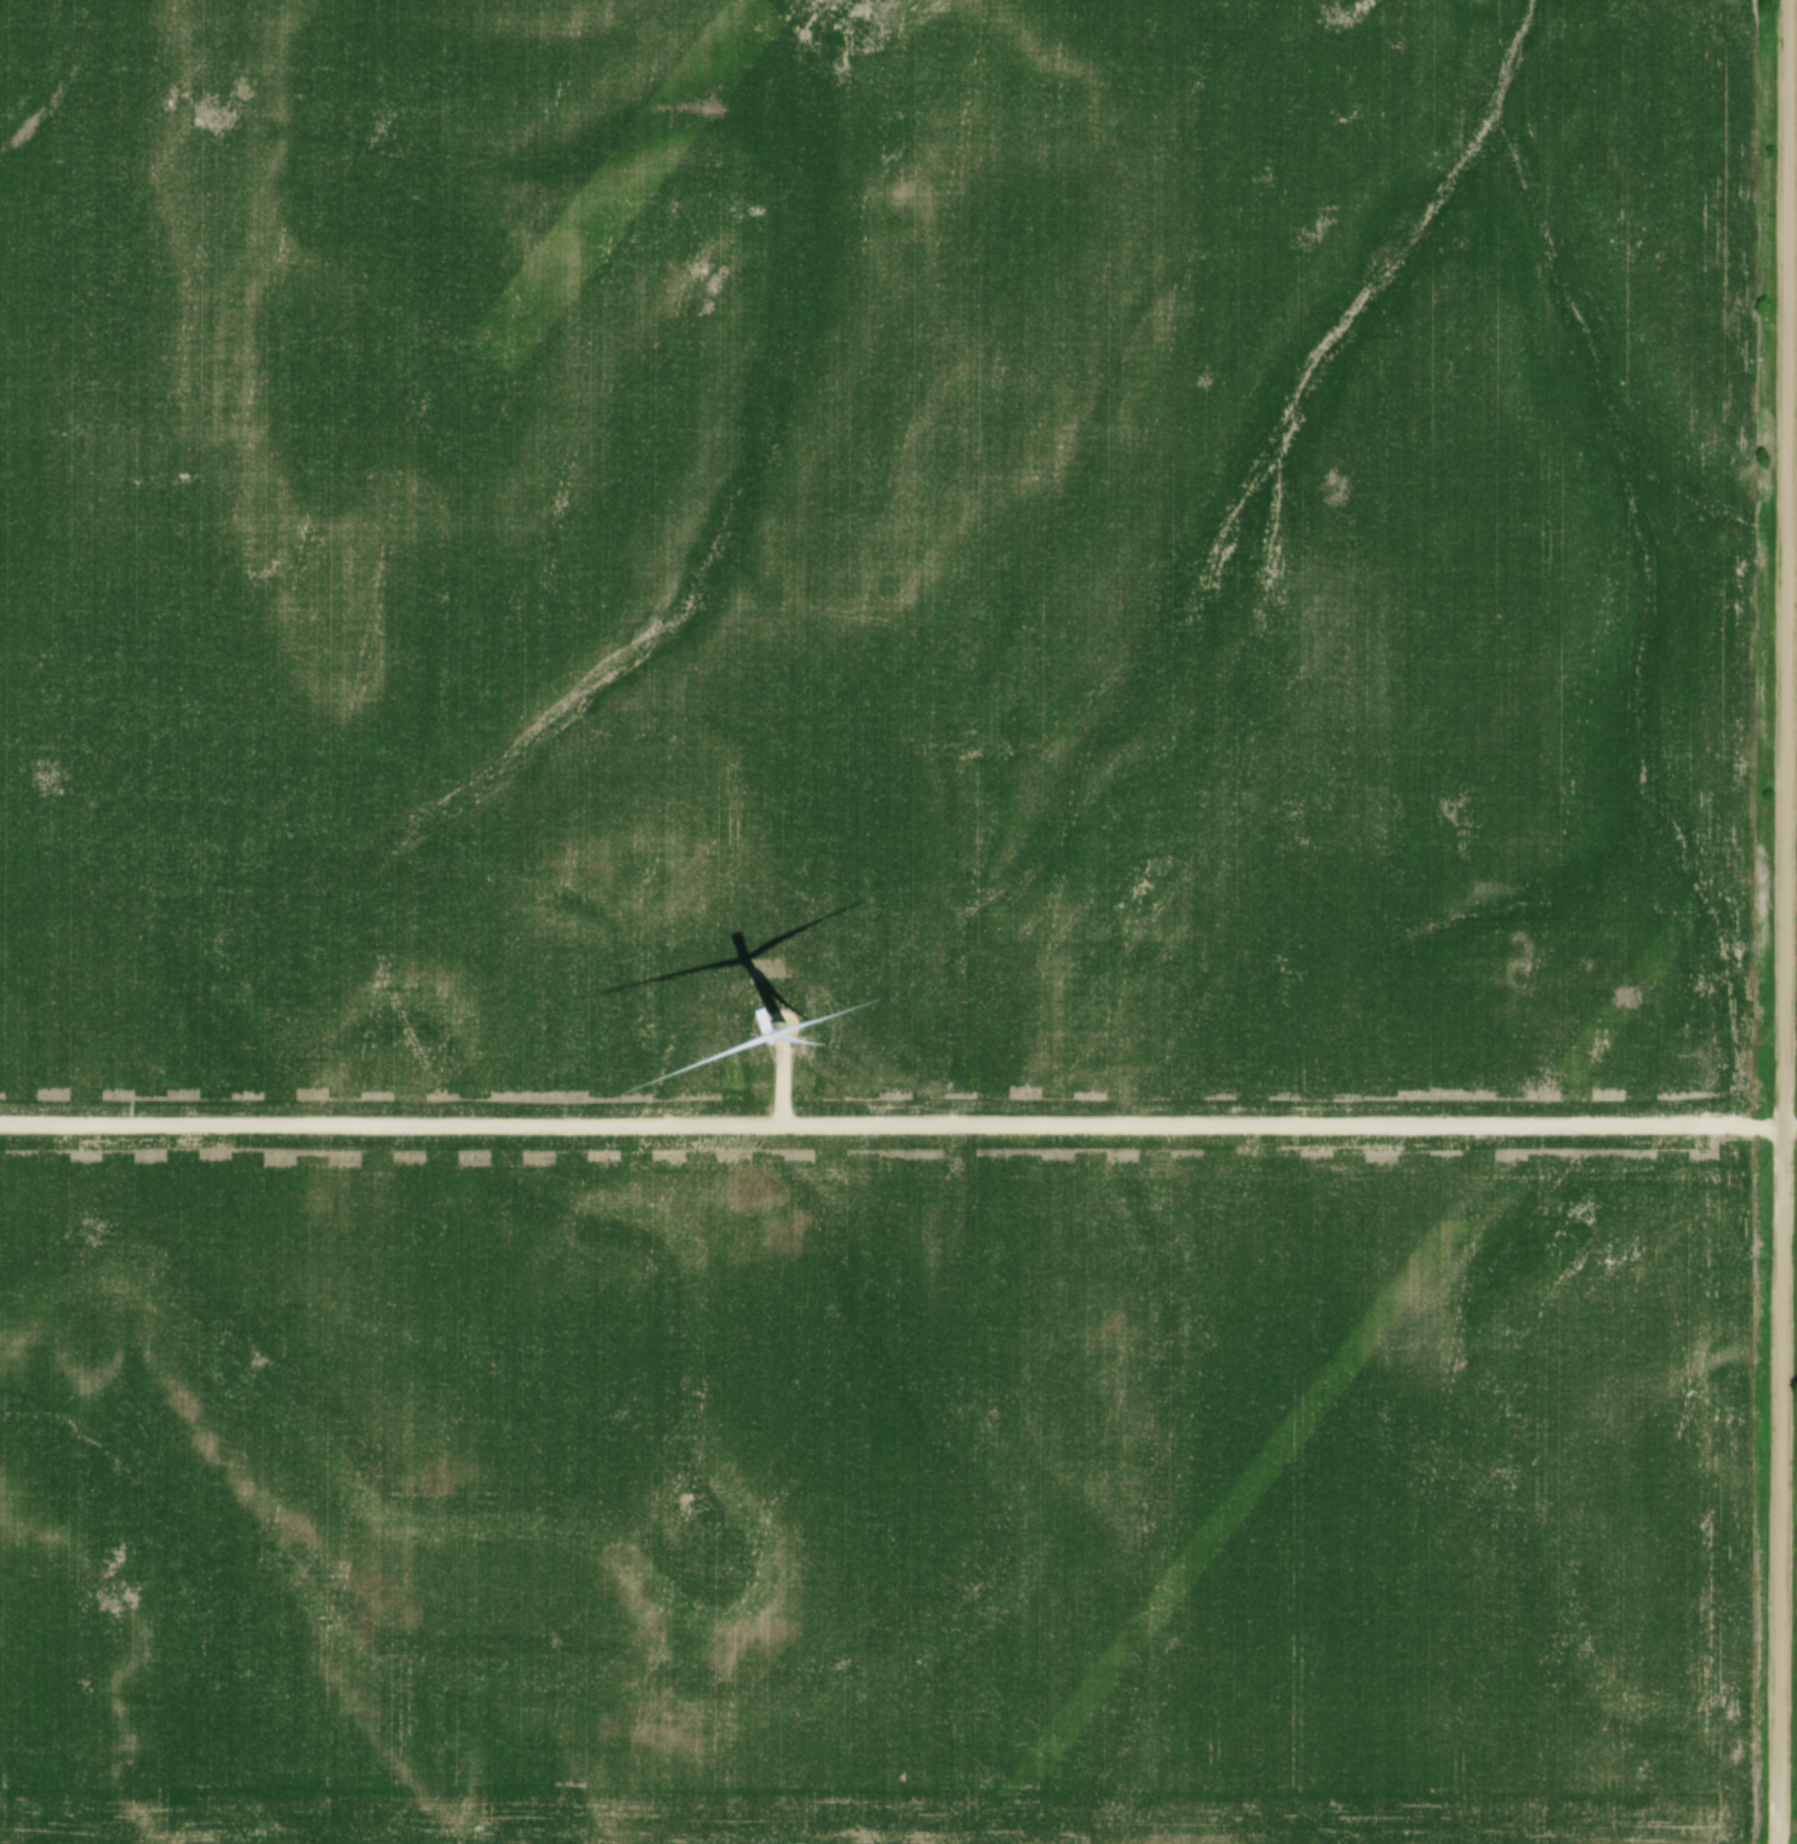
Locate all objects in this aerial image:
road: (1784, 921)
wind turbine: (779, 1023)

